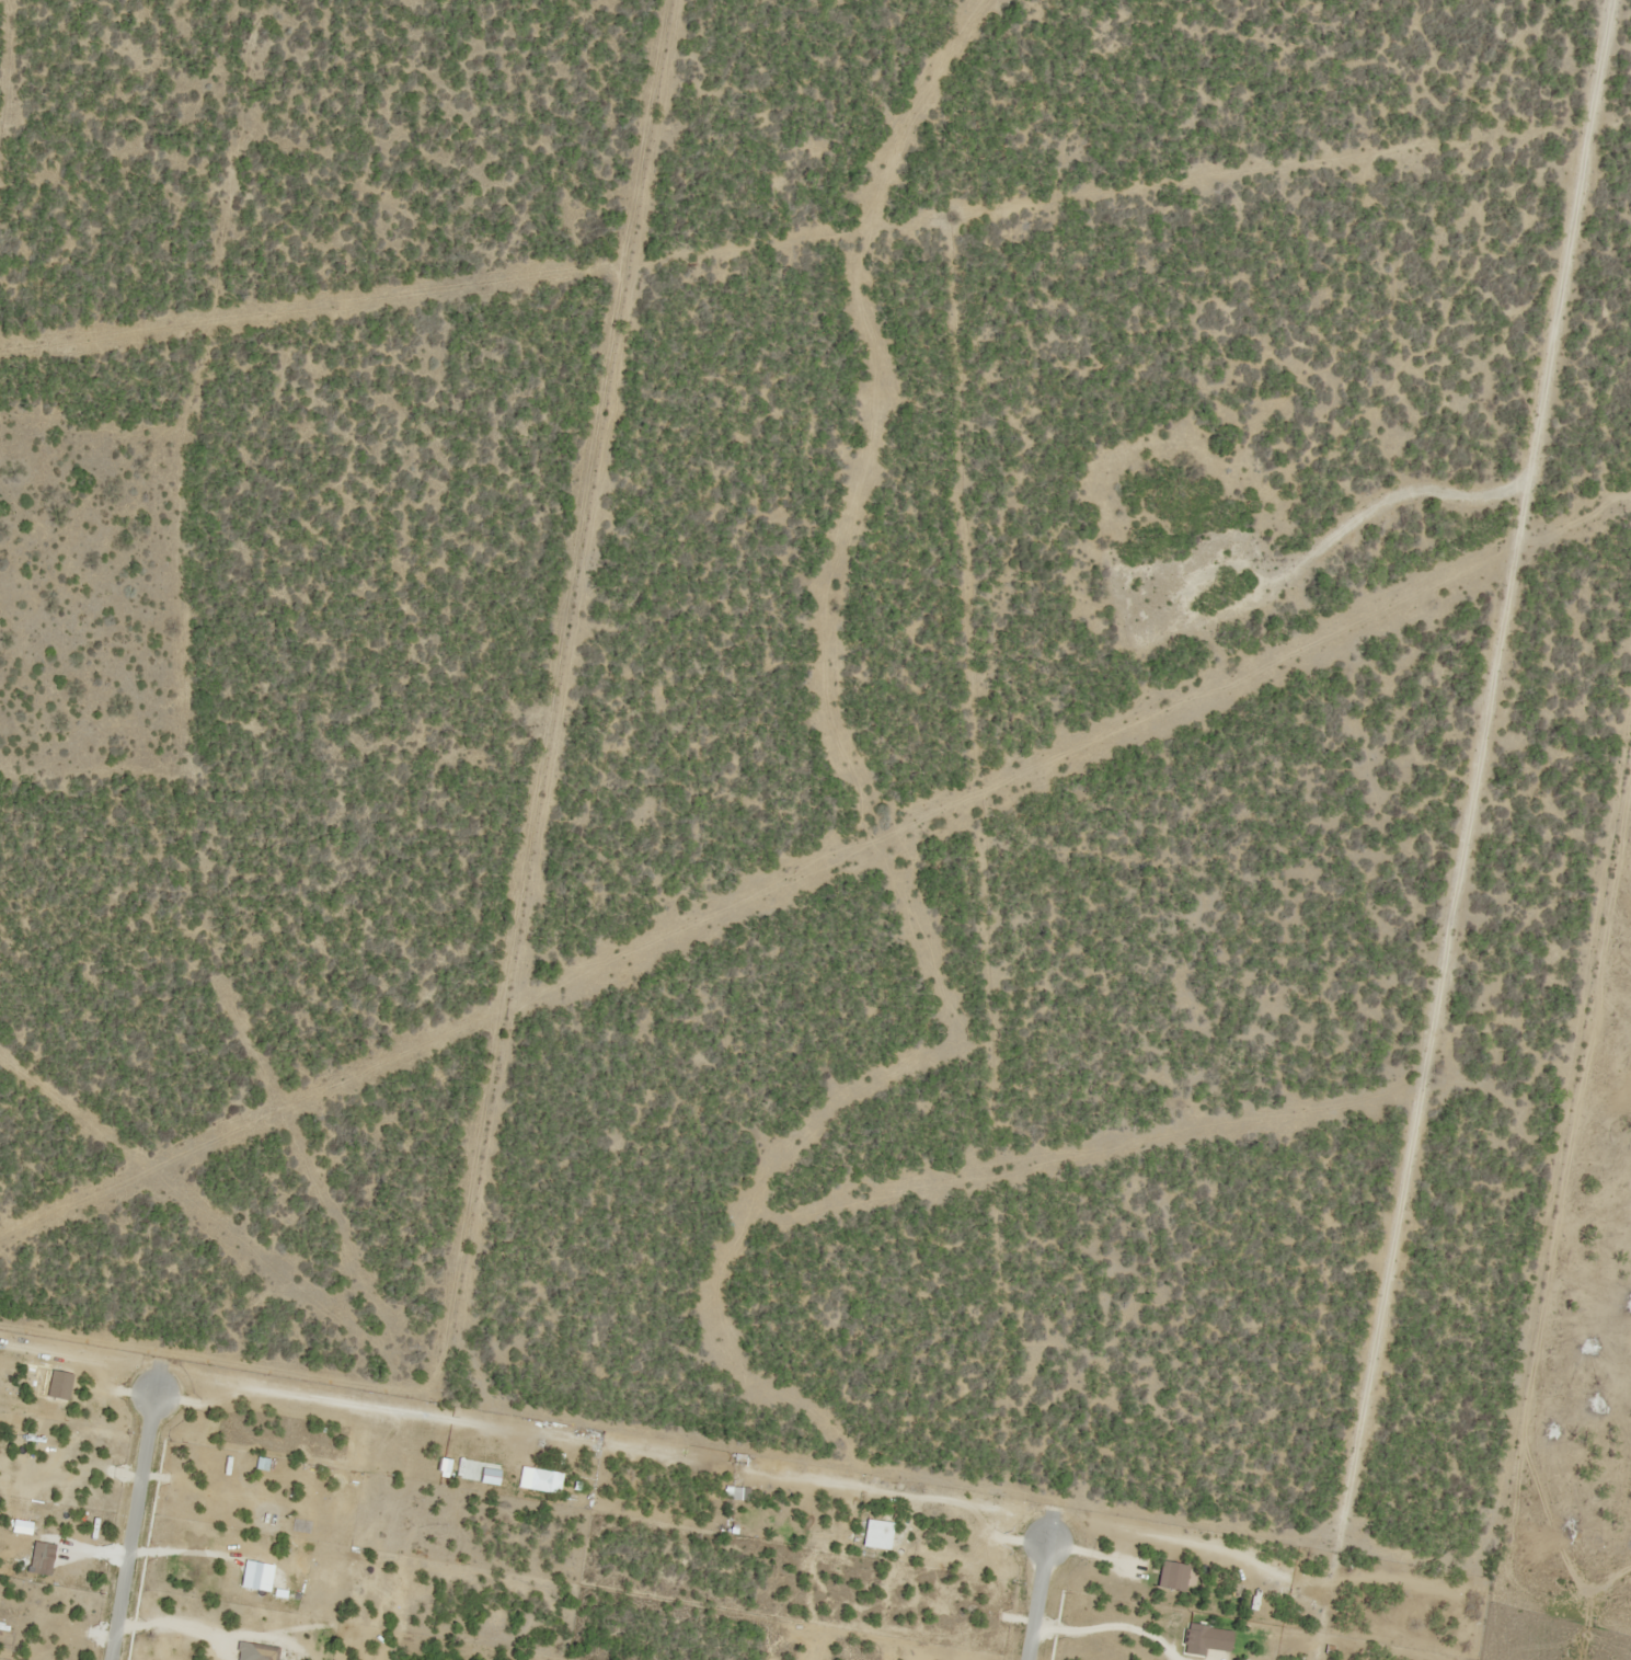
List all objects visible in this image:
road: (1465, 829)
road: (666, 1455)
road: (133, 1525)
road: (1036, 1601)

